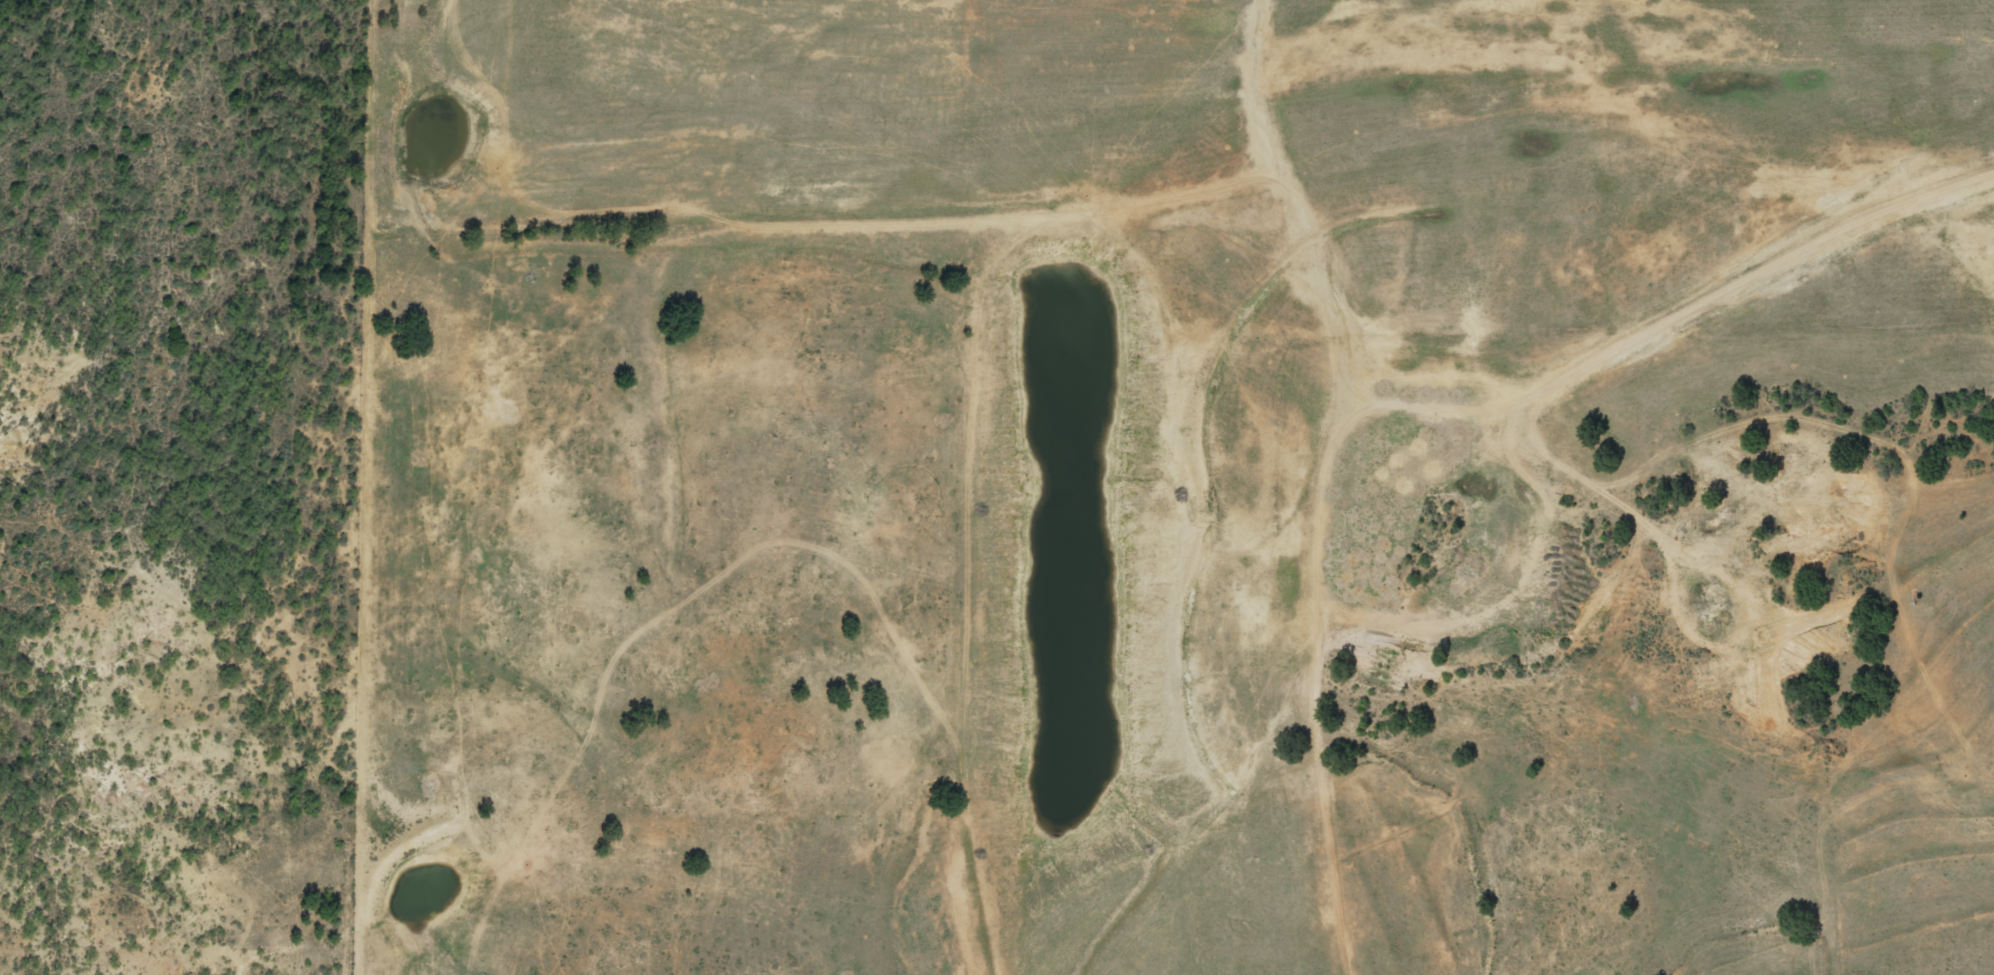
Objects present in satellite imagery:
road: (1720, 317)

